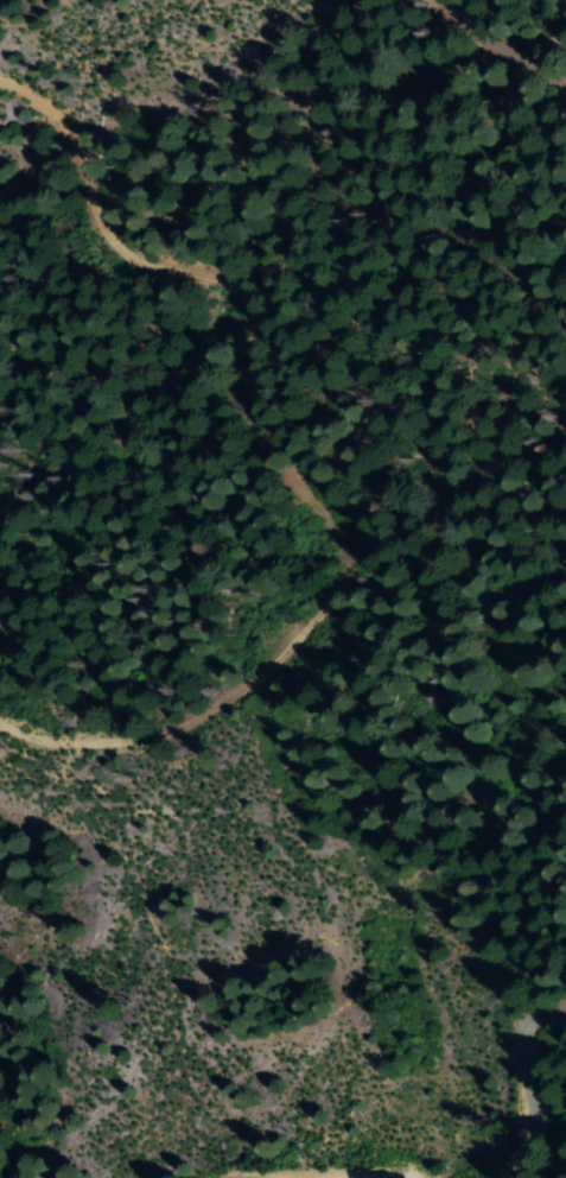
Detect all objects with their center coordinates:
road: (539, 1095)

